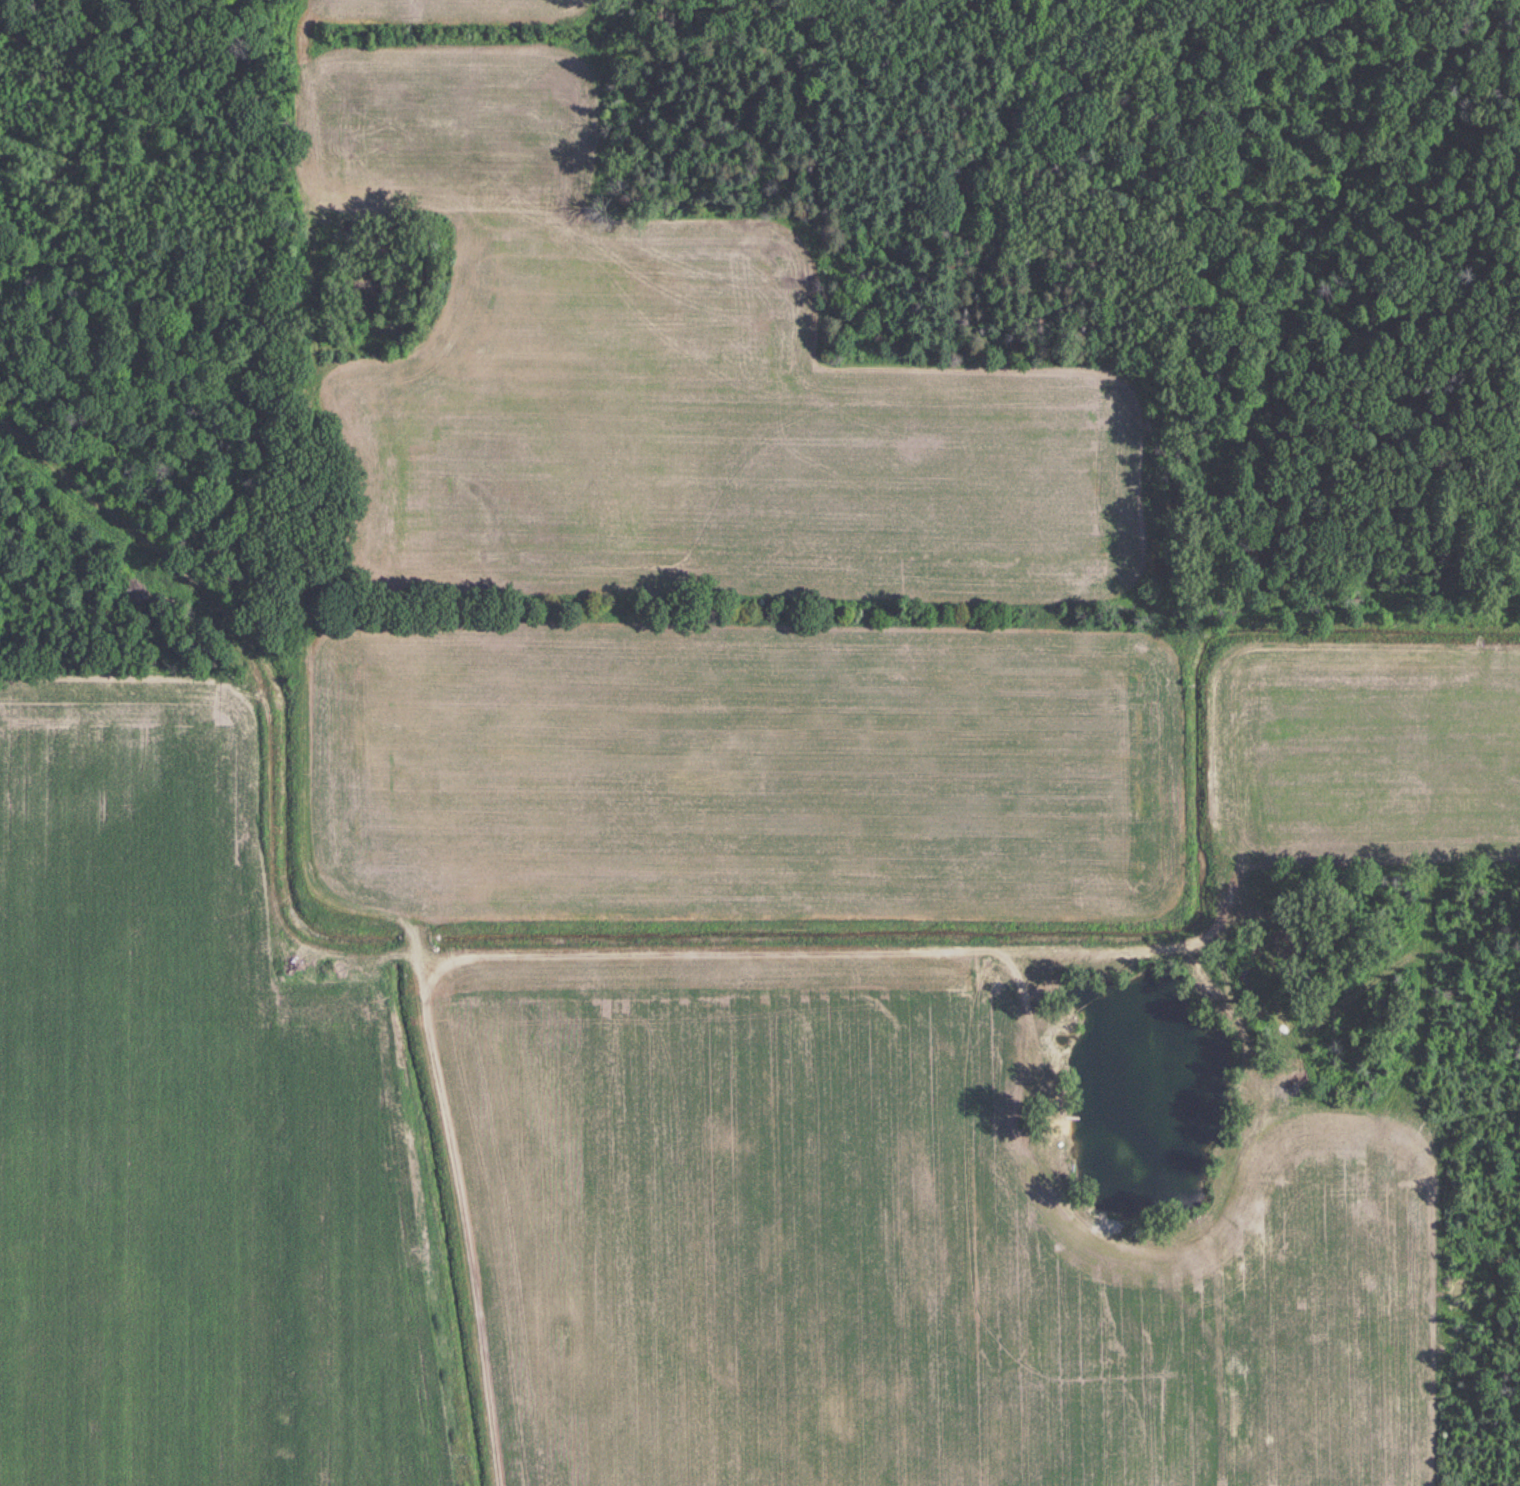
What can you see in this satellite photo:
road: (1205, 1249)

